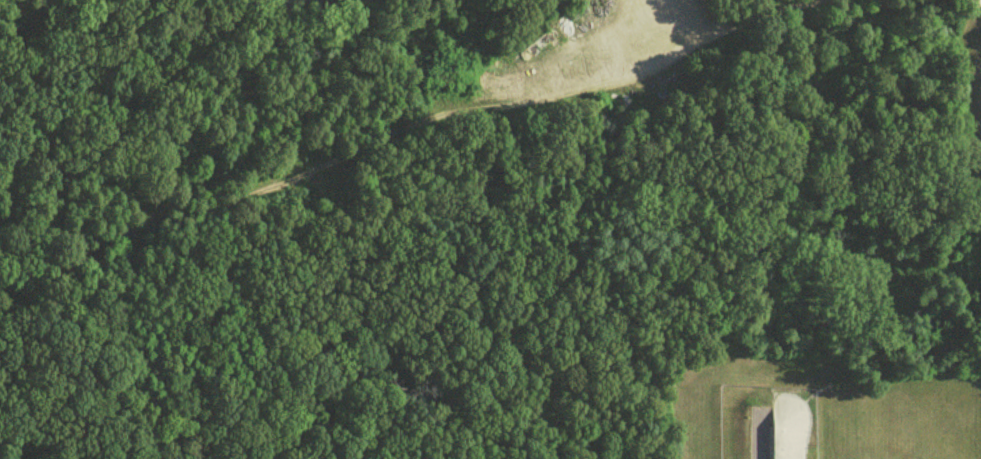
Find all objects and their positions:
road: (636, 29)
road: (396, 127)
building: (787, 433)

